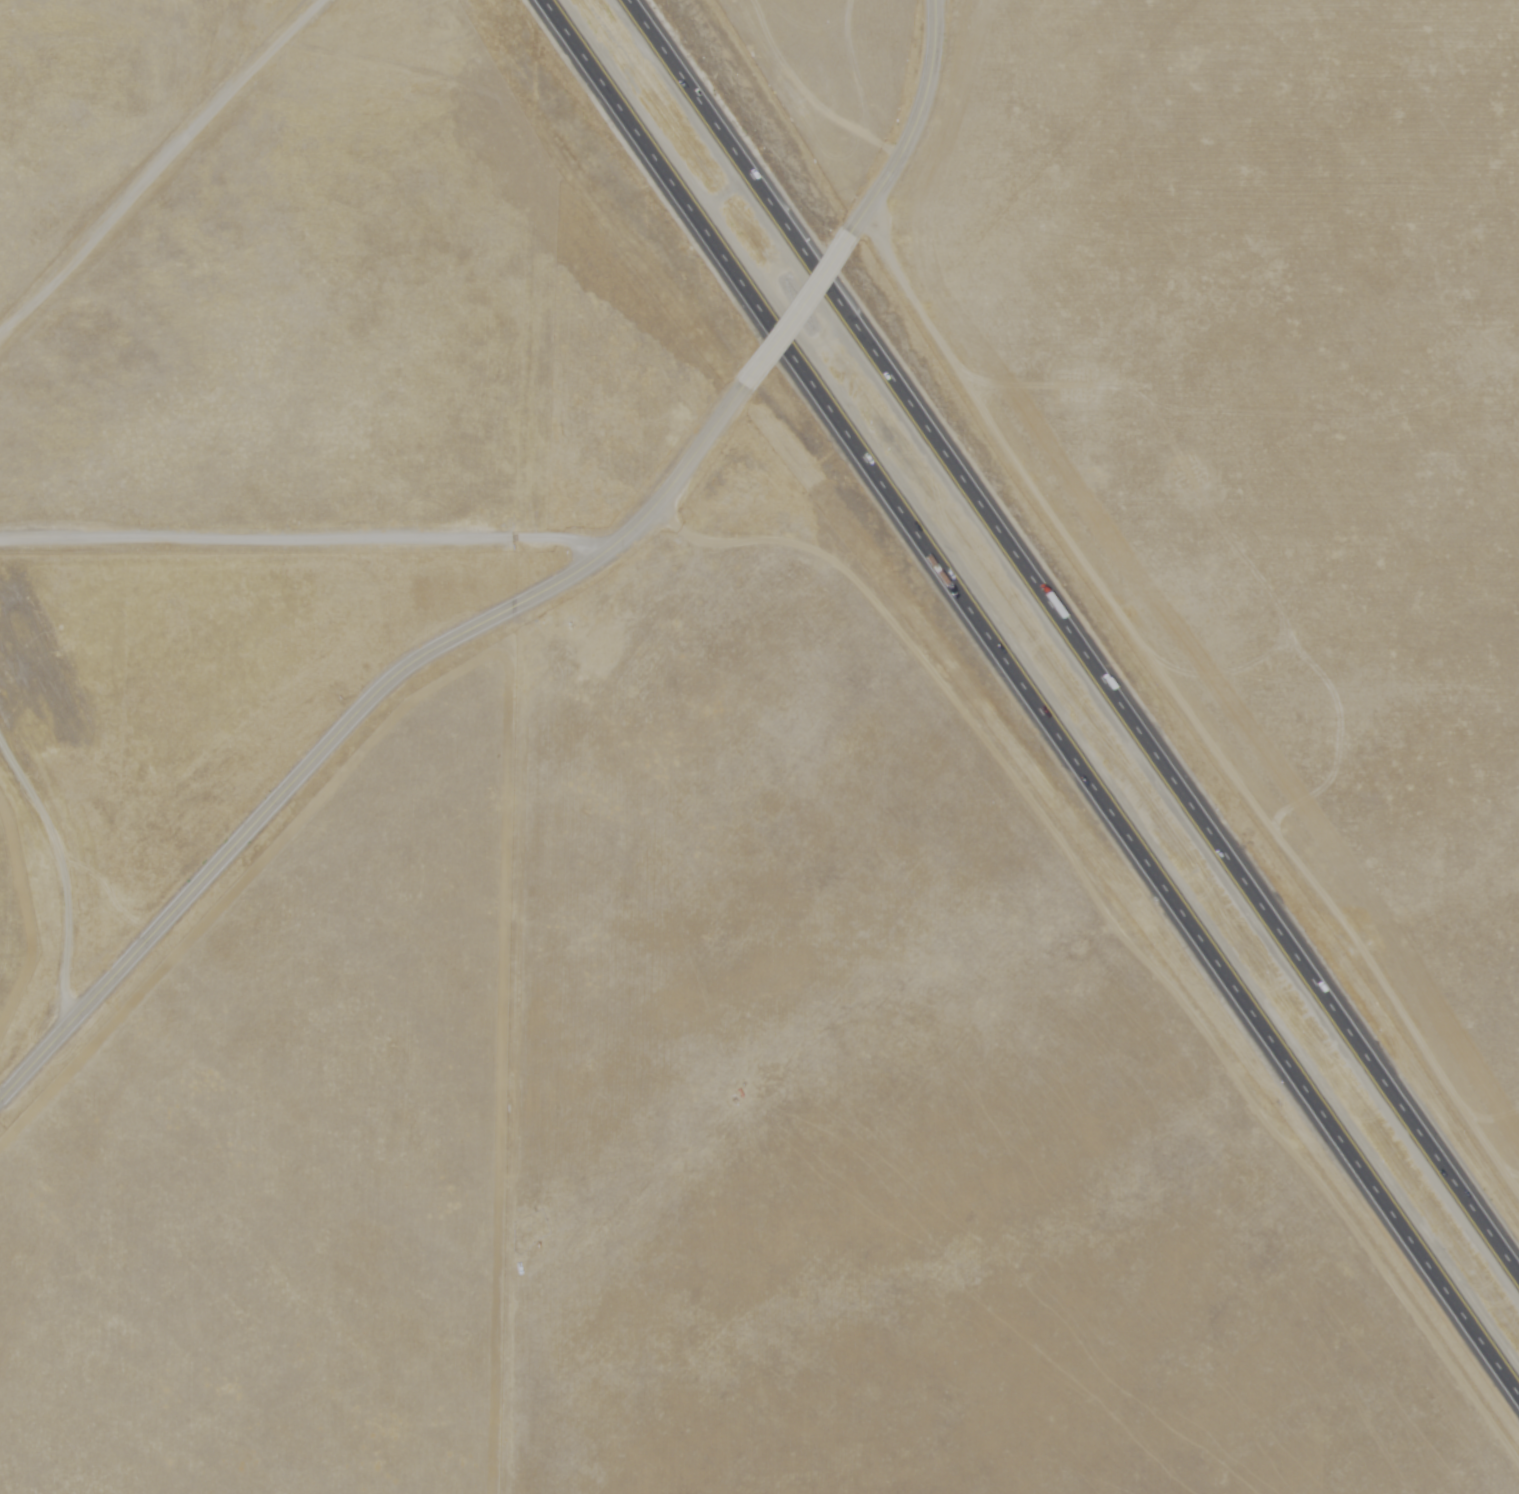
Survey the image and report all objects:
road: (921, 127)
road: (161, 174)
road: (796, 312)
crop: (1284, 395)
road: (304, 542)
road: (1076, 632)
road: (1034, 697)
road: (352, 715)
road: (1181, 715)
road: (66, 866)
road: (1127, 925)

